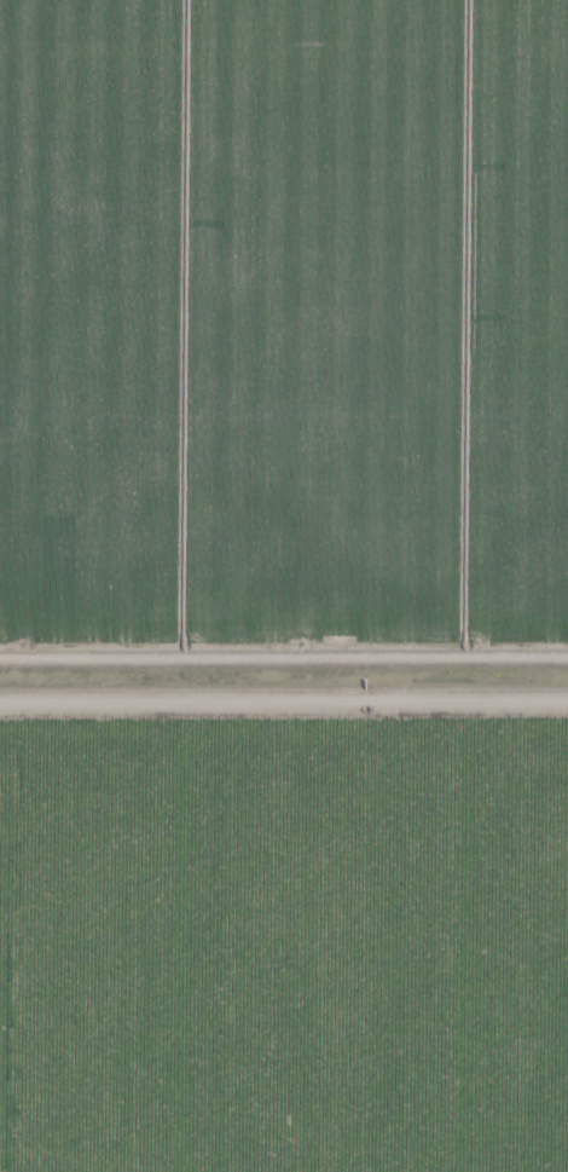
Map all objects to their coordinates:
road: (283, 697)

